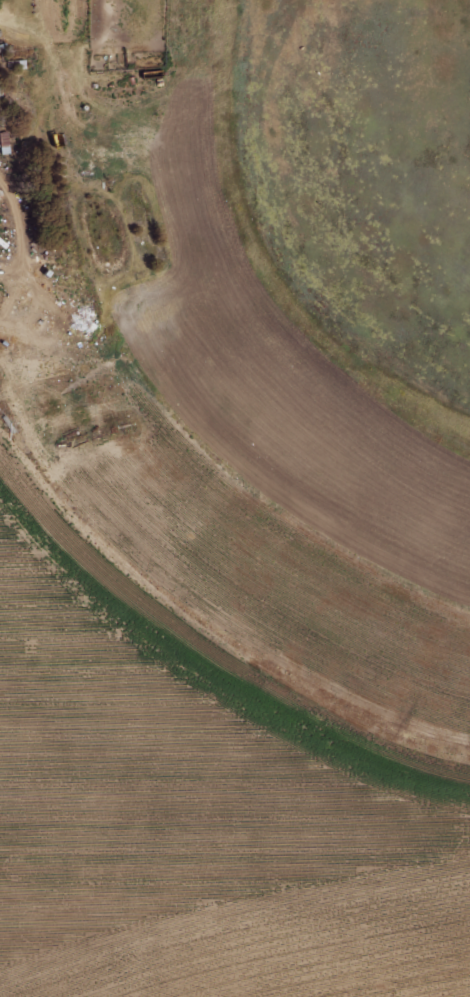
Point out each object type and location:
road: (33, 28)

